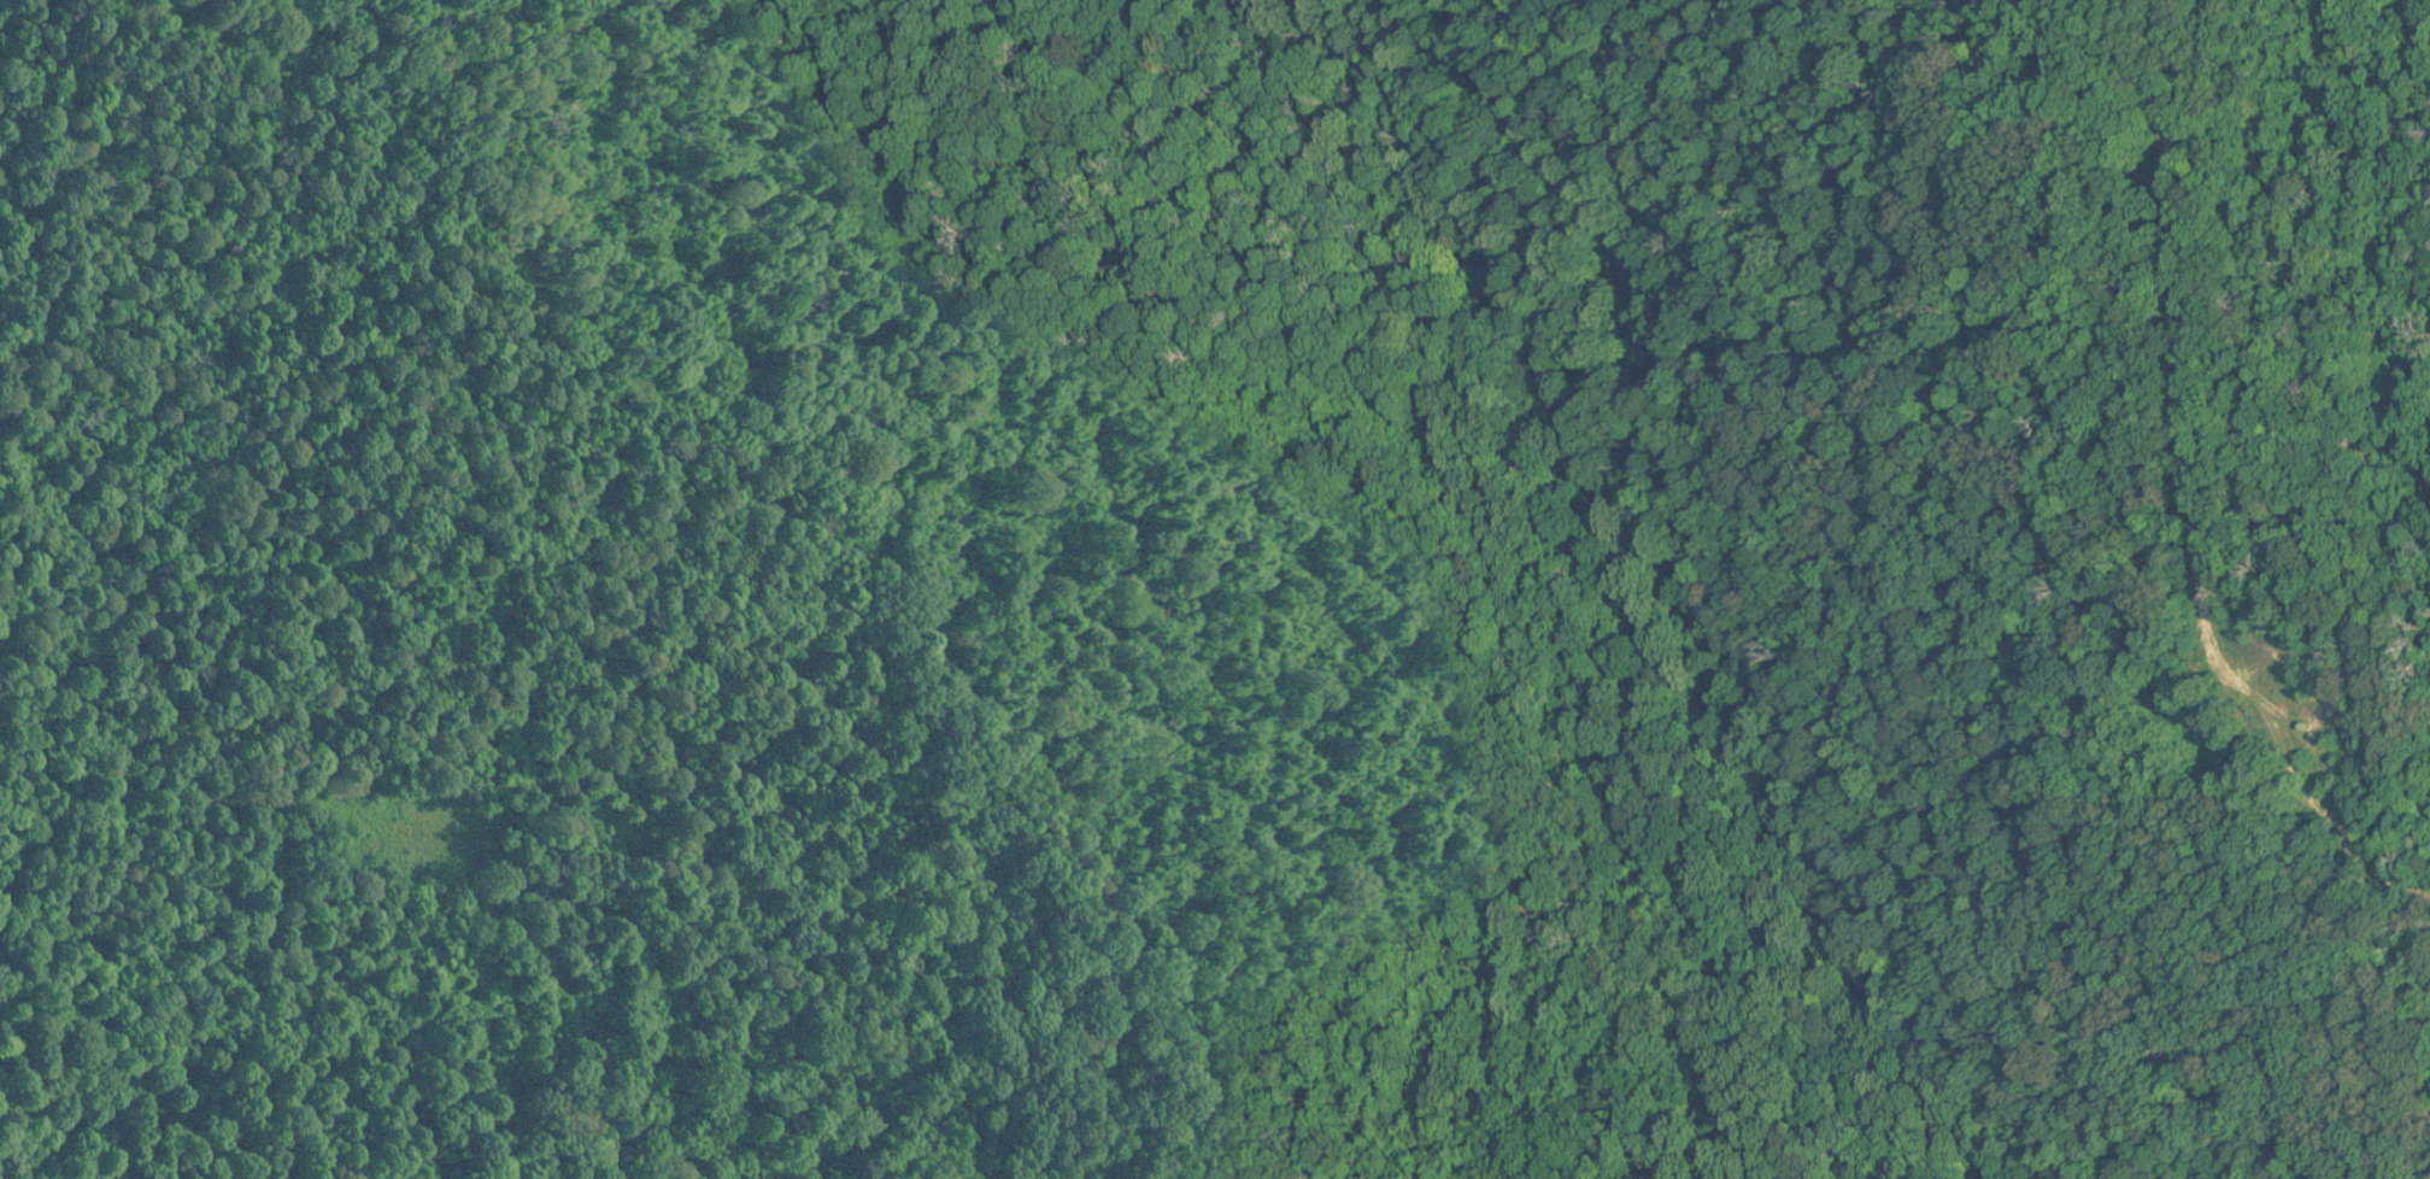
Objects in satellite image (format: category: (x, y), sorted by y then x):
road: (2197, 373)

